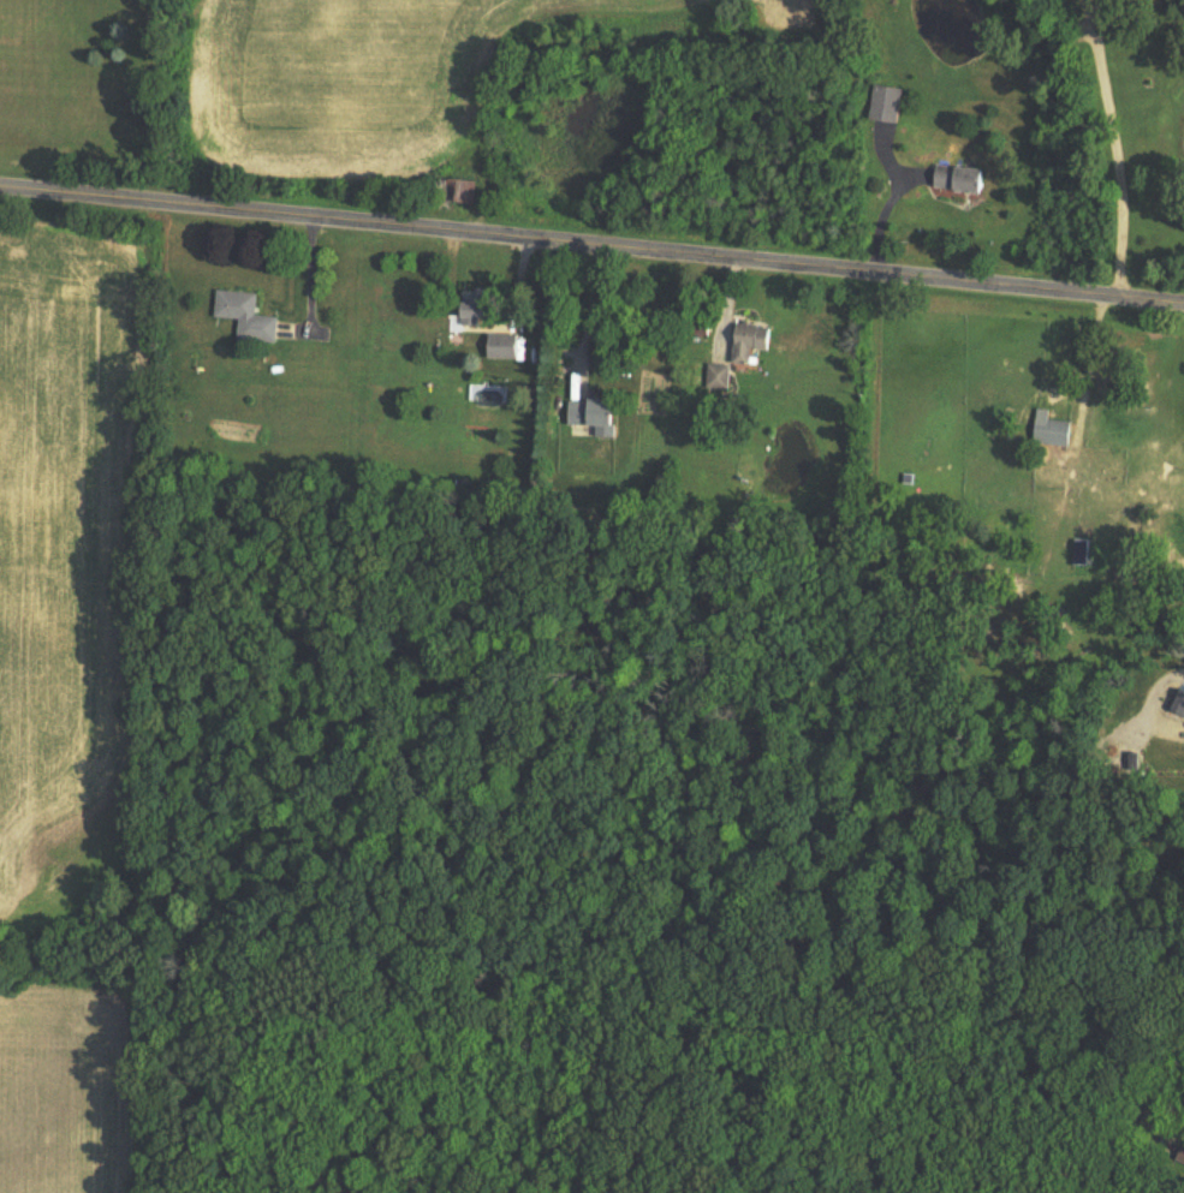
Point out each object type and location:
building: (890, 103)
road: (1120, 159)
building: (960, 179)
building: (457, 190)
road: (885, 220)
road: (591, 251)
building: (481, 310)
road: (588, 314)
building: (246, 316)
building: (750, 341)
building: (504, 346)
building: (718, 376)
building: (595, 416)
building: (1052, 434)
building: (1082, 553)
road: (1156, 1057)

